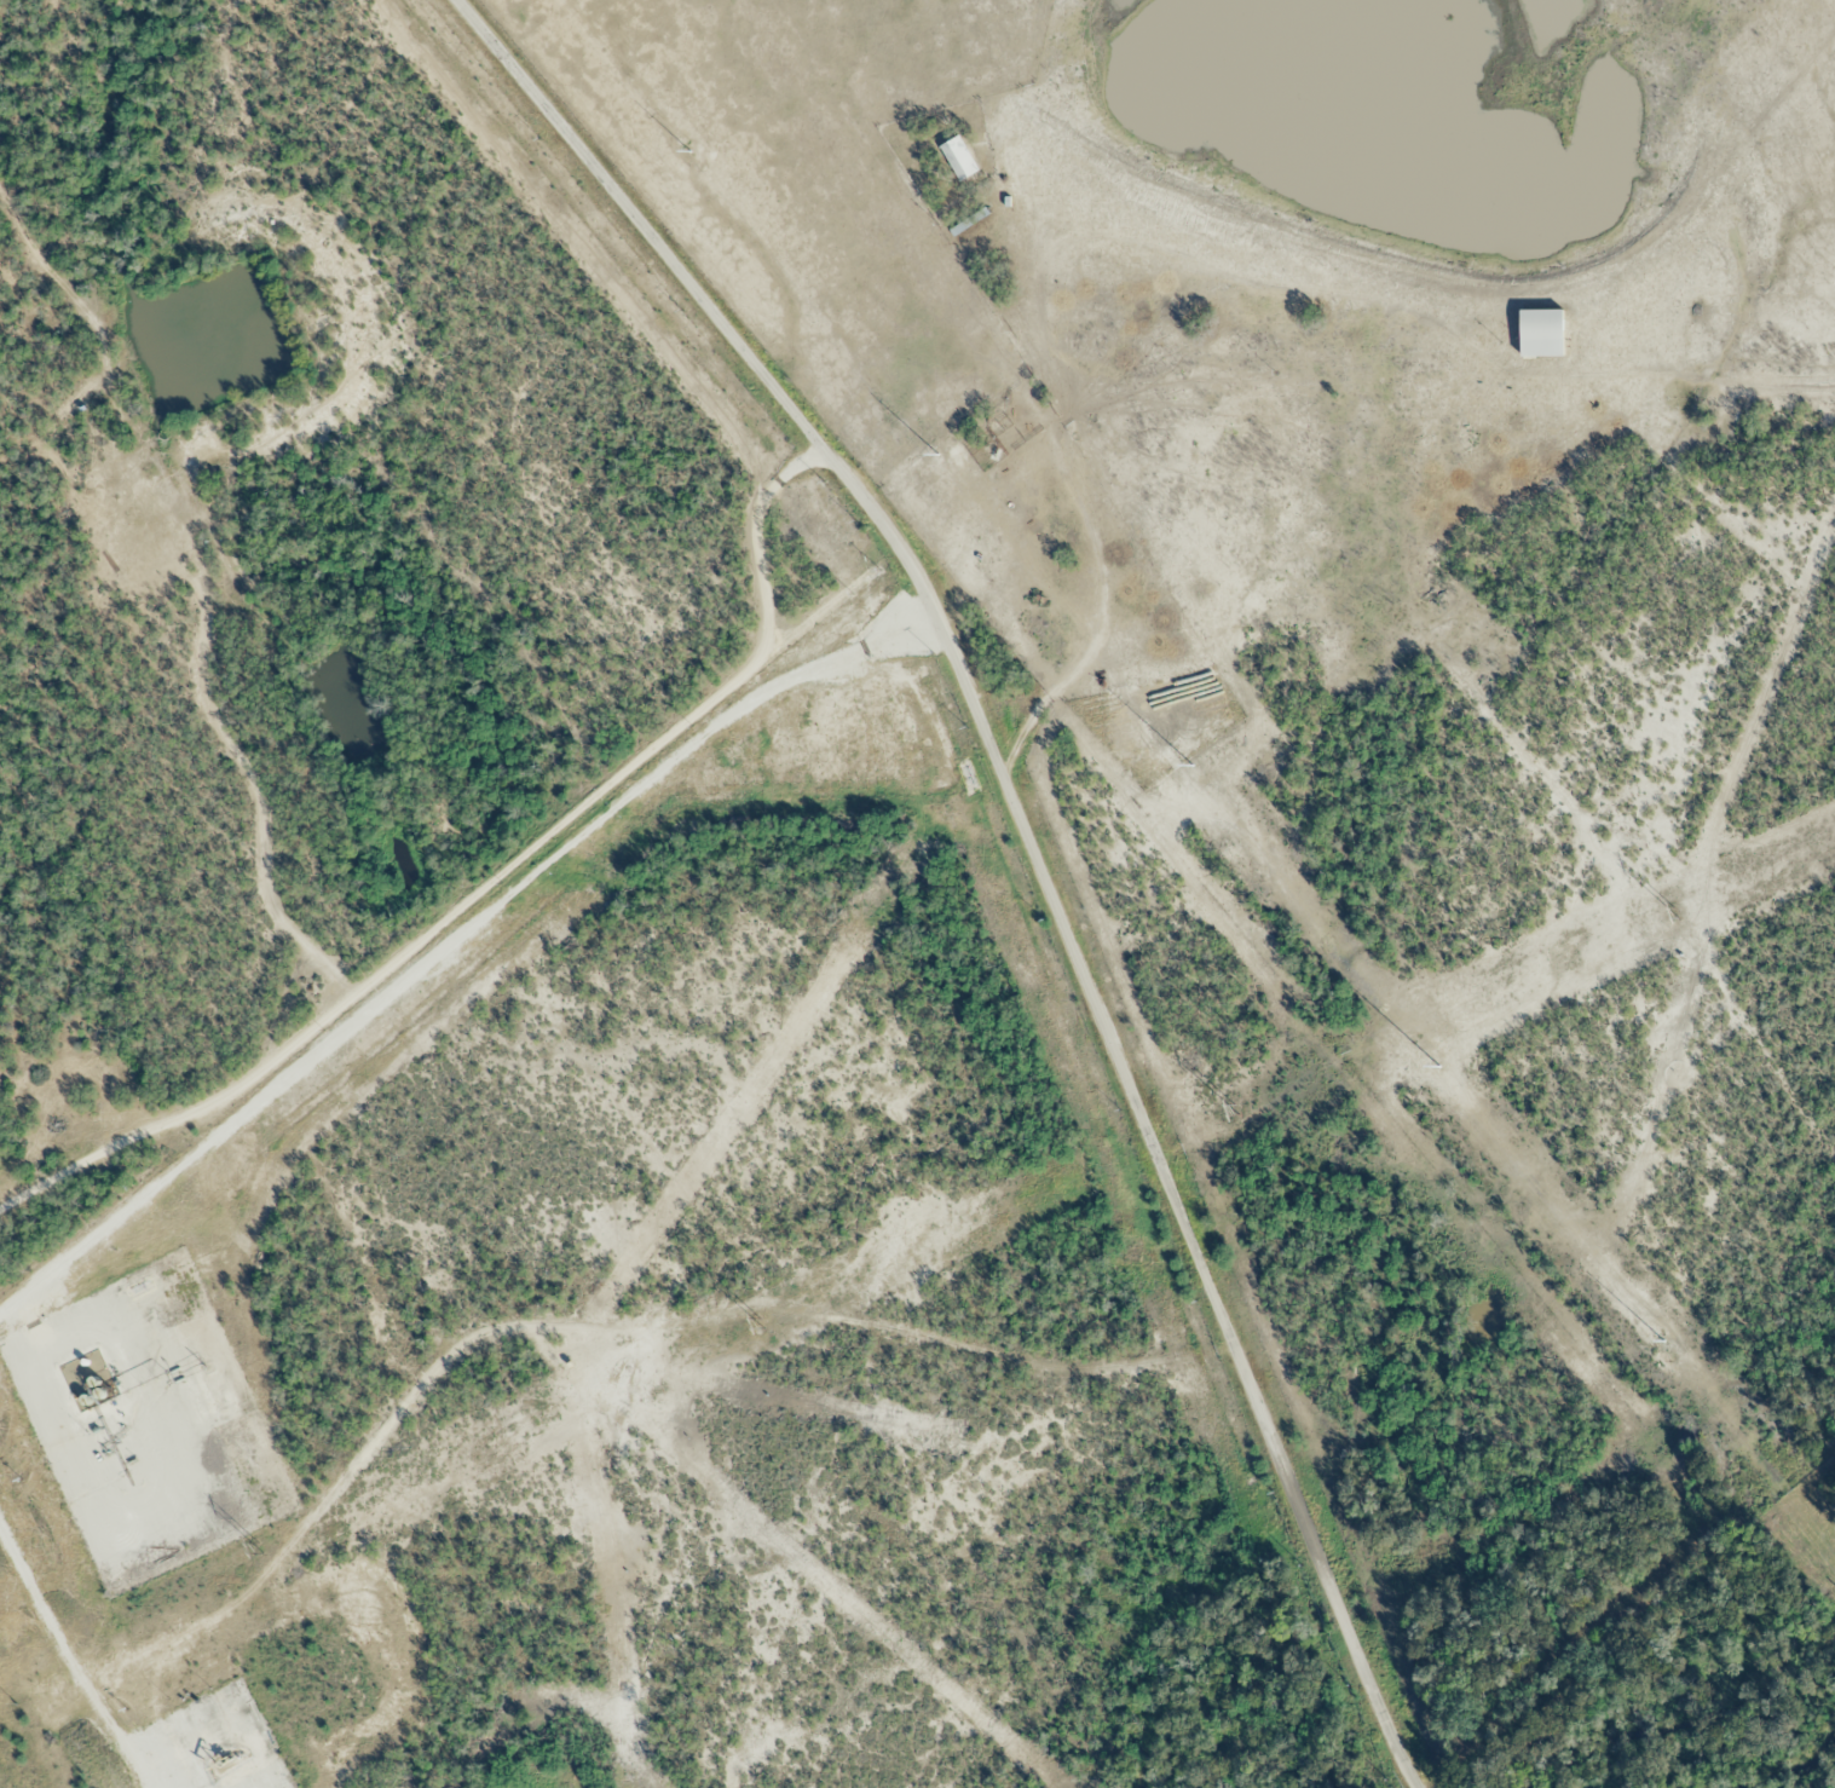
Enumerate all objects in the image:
power tower: (682, 145)
building: (956, 158)
building: (1536, 333)
power tower: (929, 445)
power tower: (1170, 739)
road: (1027, 840)
road: (490, 879)
power tower: (1673, 911)
road: (454, 936)
power tower: (1414, 1038)
power tower: (1235, 1109)
power tower: (761, 1321)
power tower: (1658, 1337)
power tower: (258, 1546)
road: (80, 1650)

